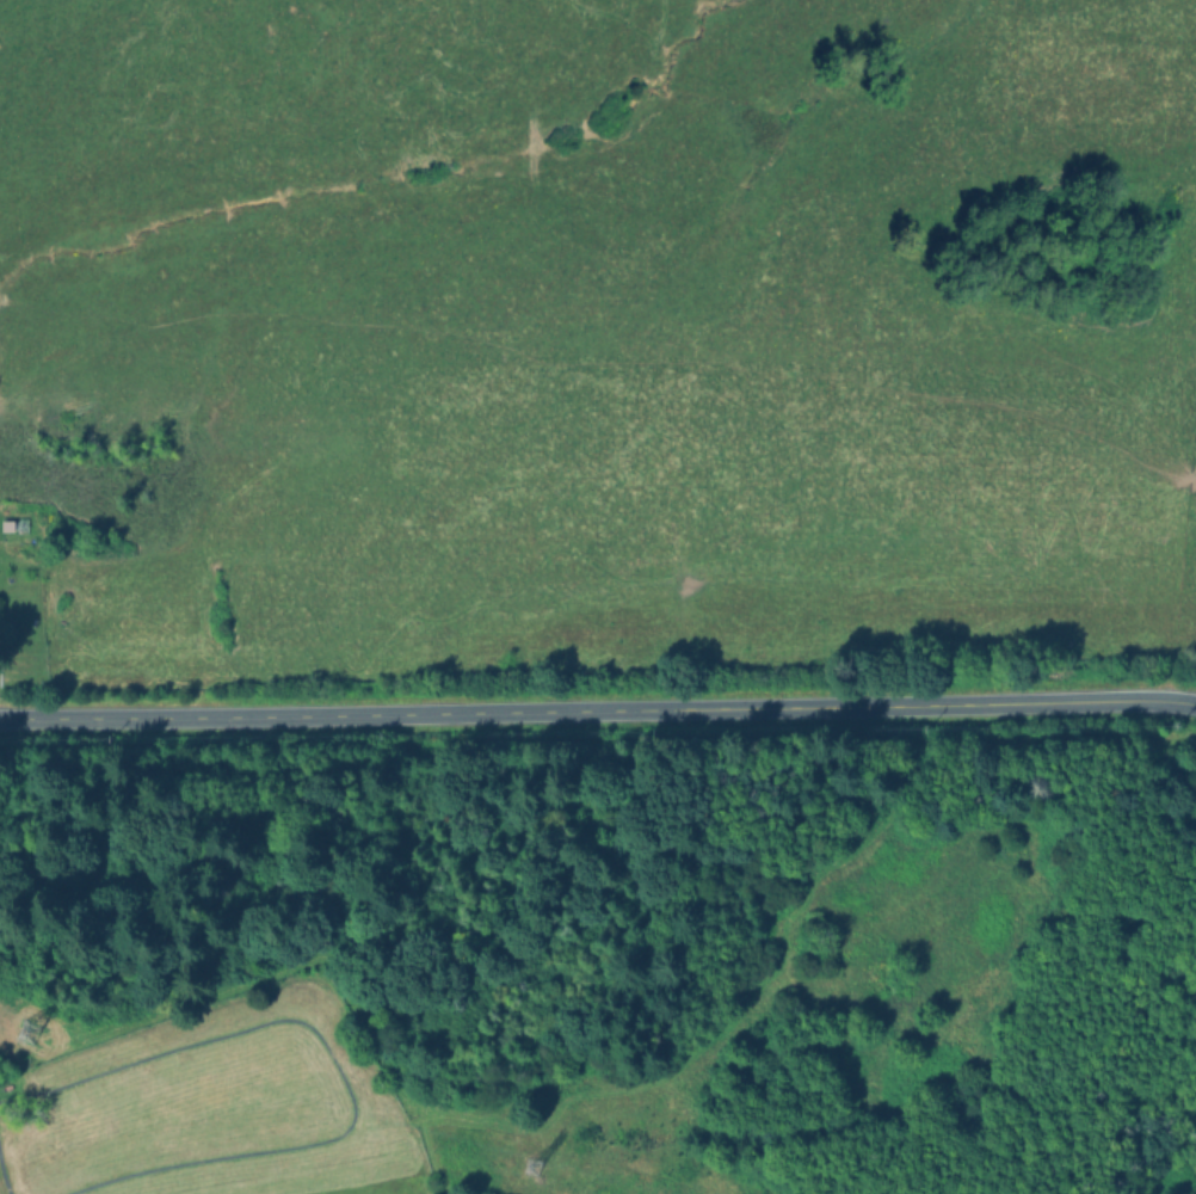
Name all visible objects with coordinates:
road: (598, 707)
power tower: (12, 1033)
power tower: (520, 1177)

